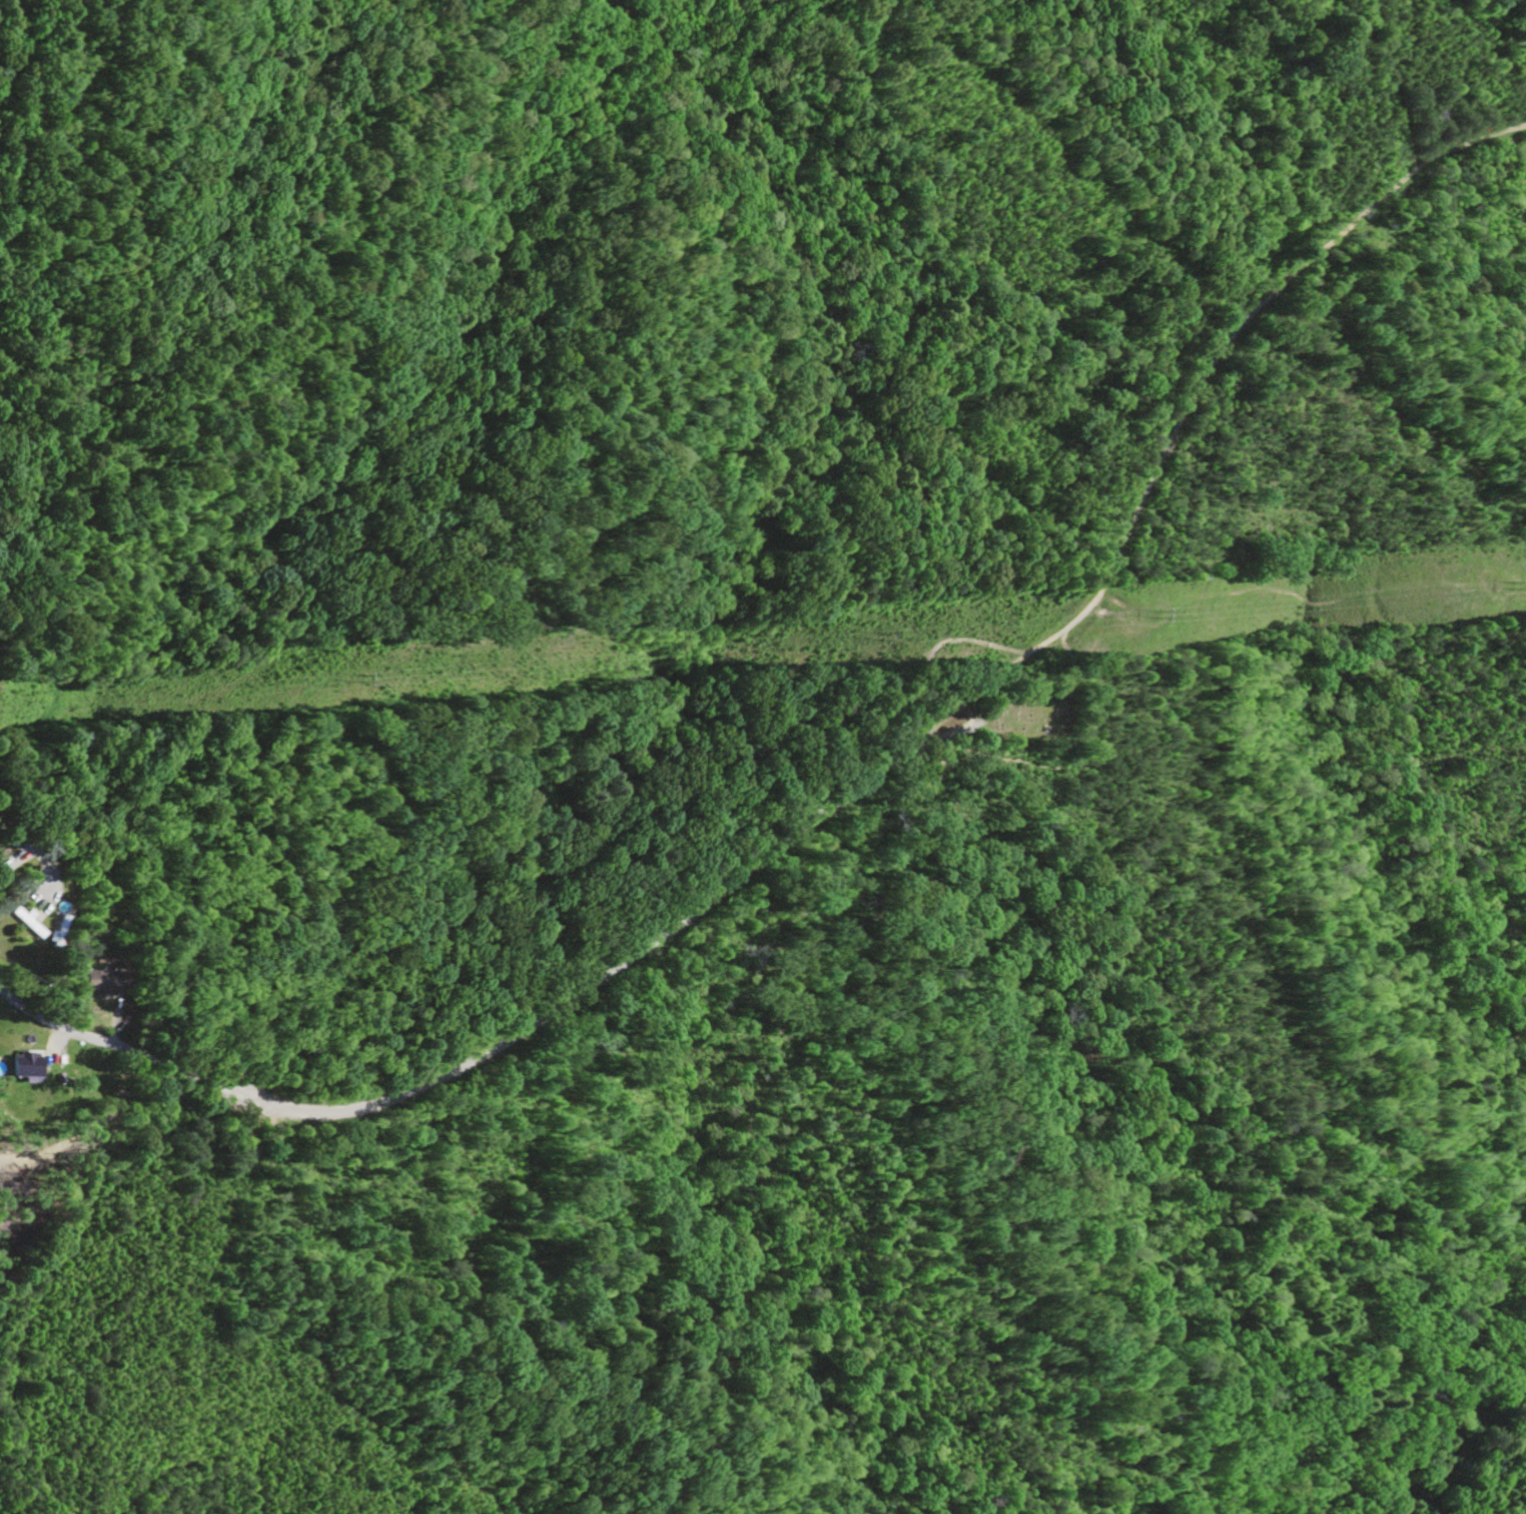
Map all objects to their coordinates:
road: (849, 789)
road: (16, 830)
building: (24, 923)
building: (95, 983)
building: (21, 1066)

